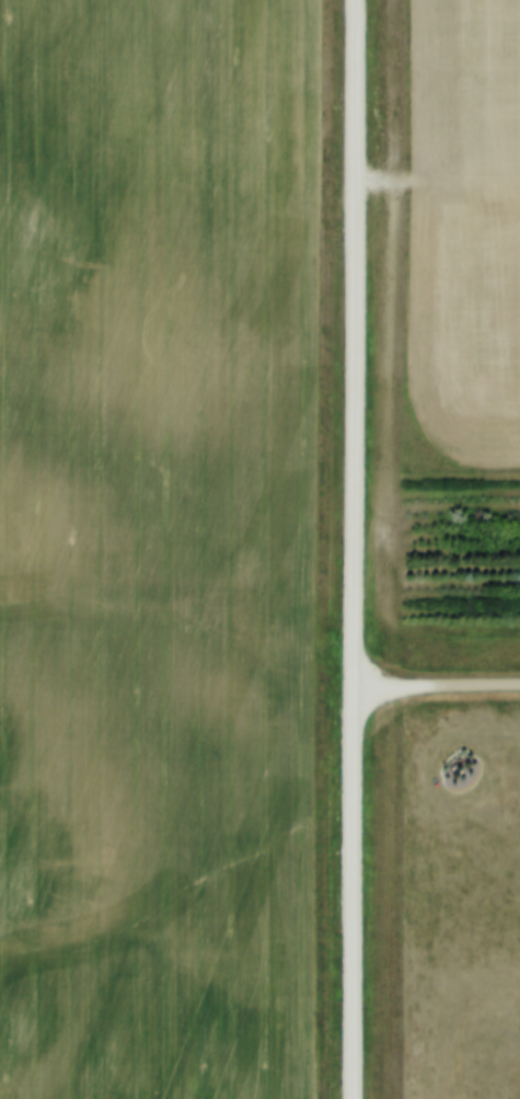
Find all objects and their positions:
road: (354, 549)
road: (436, 692)

